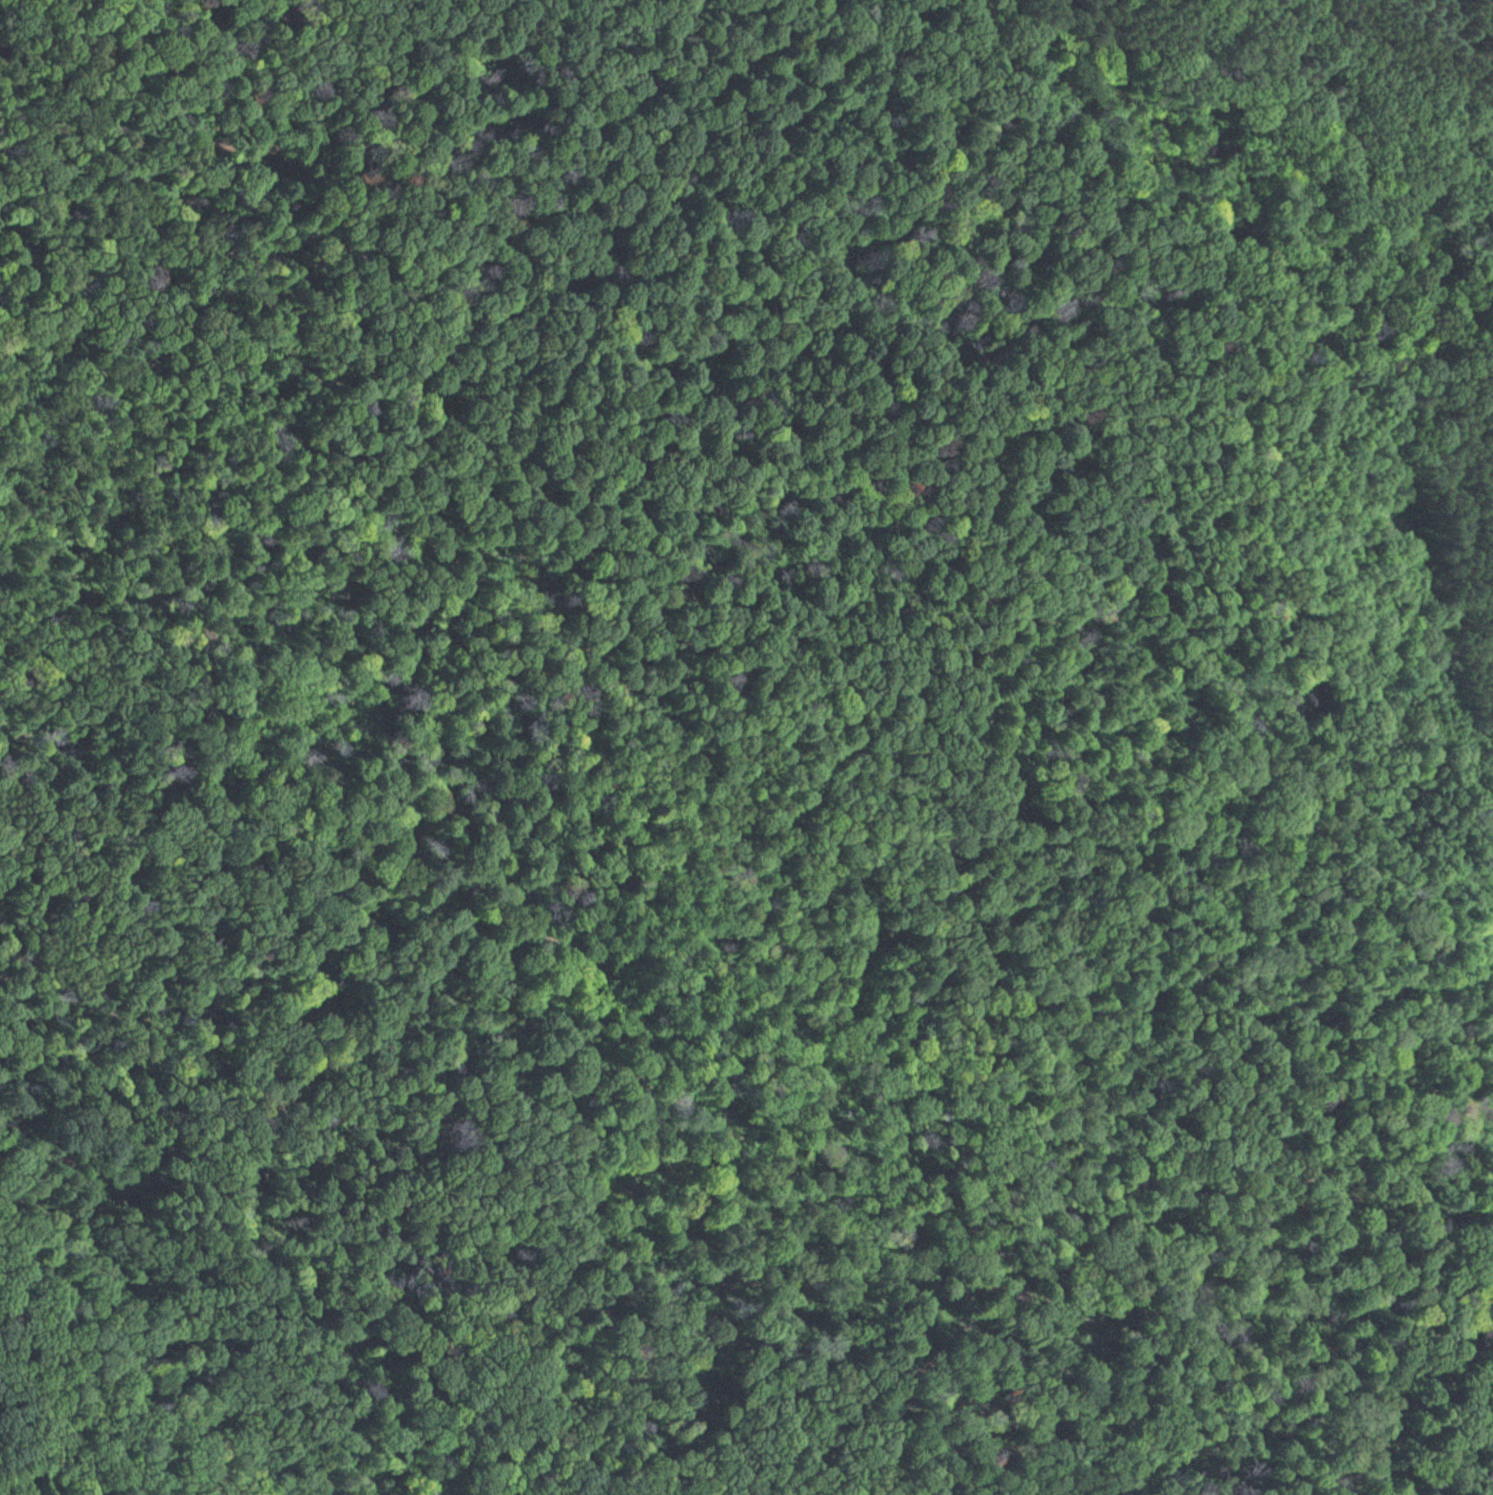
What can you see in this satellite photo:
road: (408, 573)
road: (45, 769)
road: (970, 788)
road: (381, 1151)
road: (757, 1191)
road: (235, 1335)
road: (1175, 1338)
road: (277, 1420)

